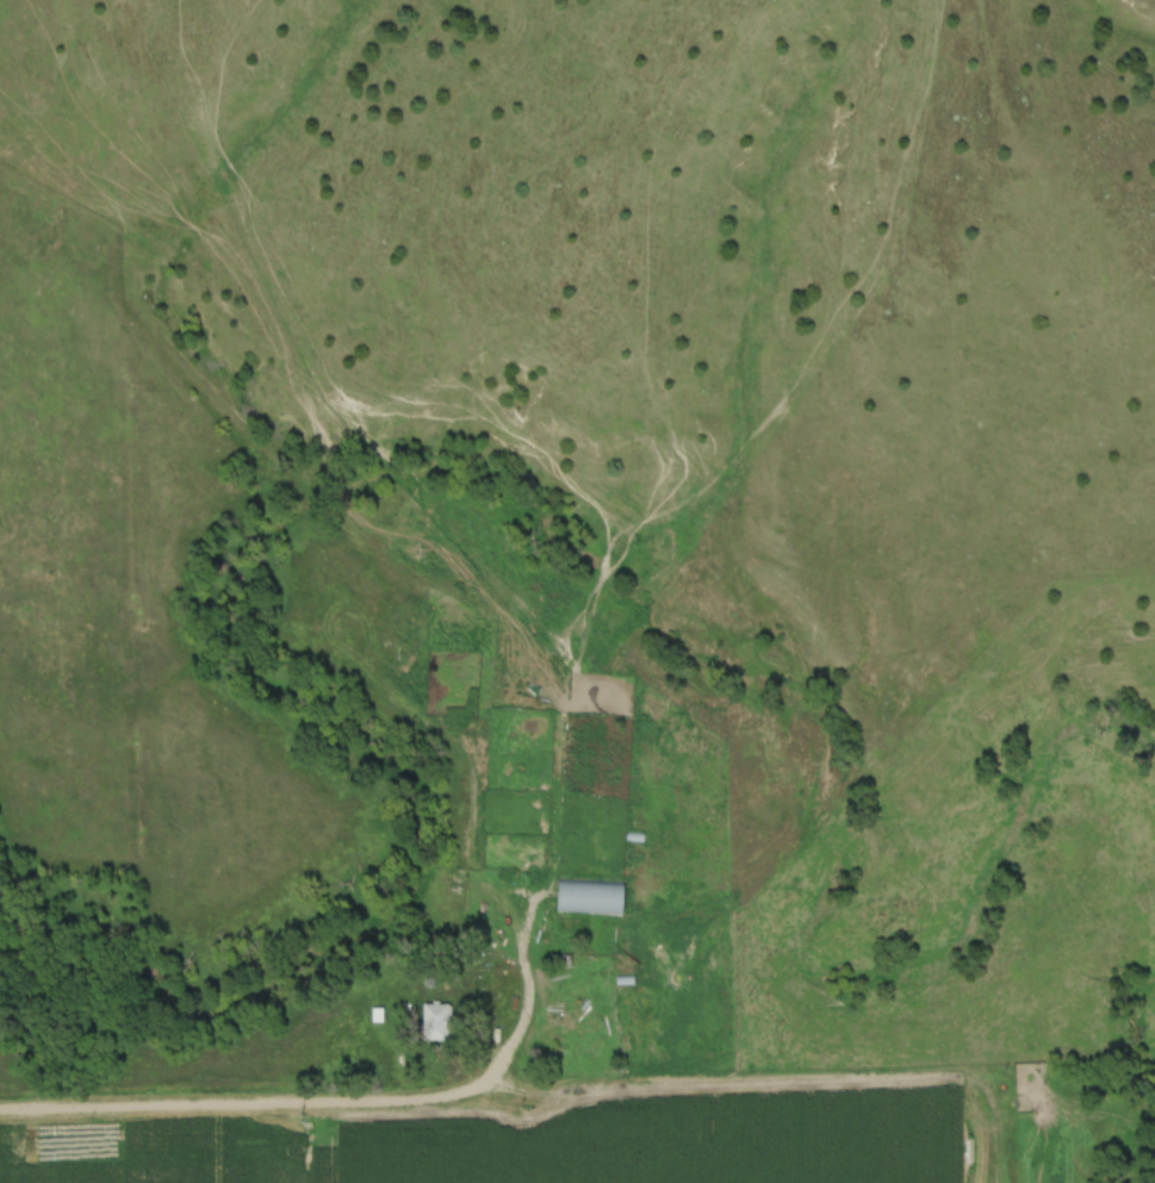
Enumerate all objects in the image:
building: (589, 896)
building: (436, 1021)
road: (471, 1088)
road: (216, 1106)

